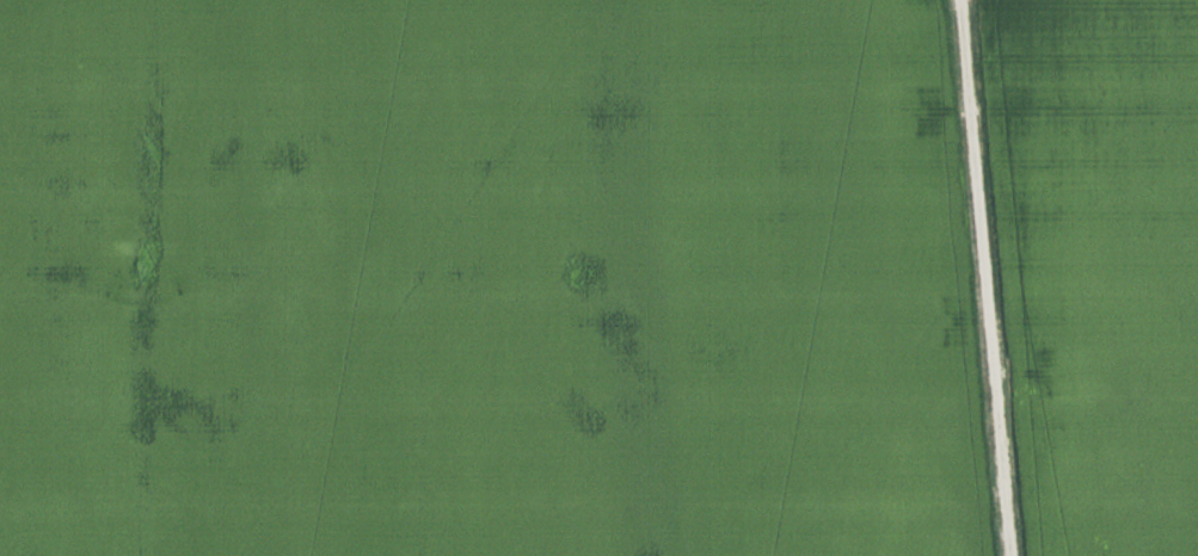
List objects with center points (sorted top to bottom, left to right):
road: (985, 278)

